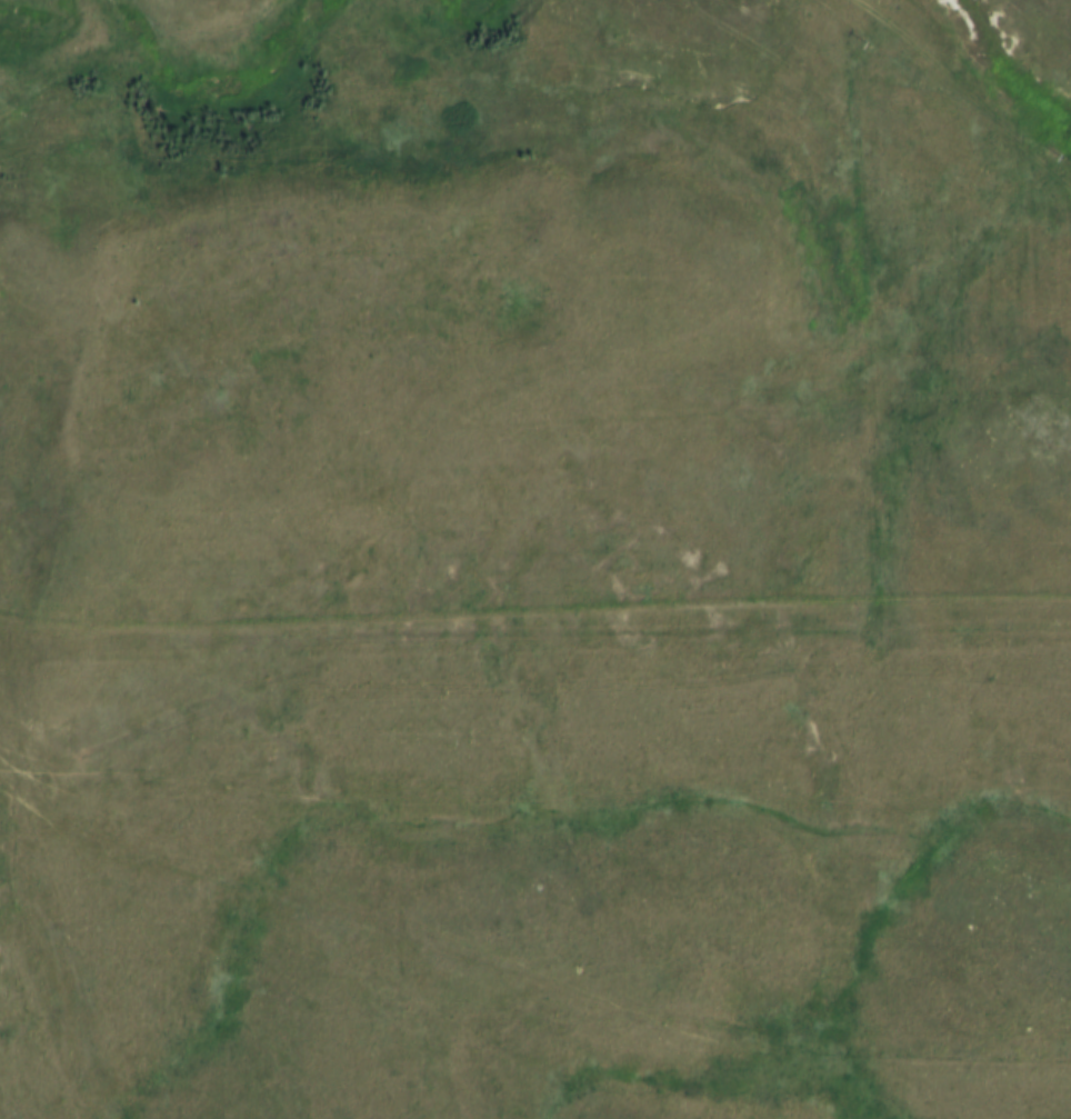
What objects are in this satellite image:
road: (958, 89)

